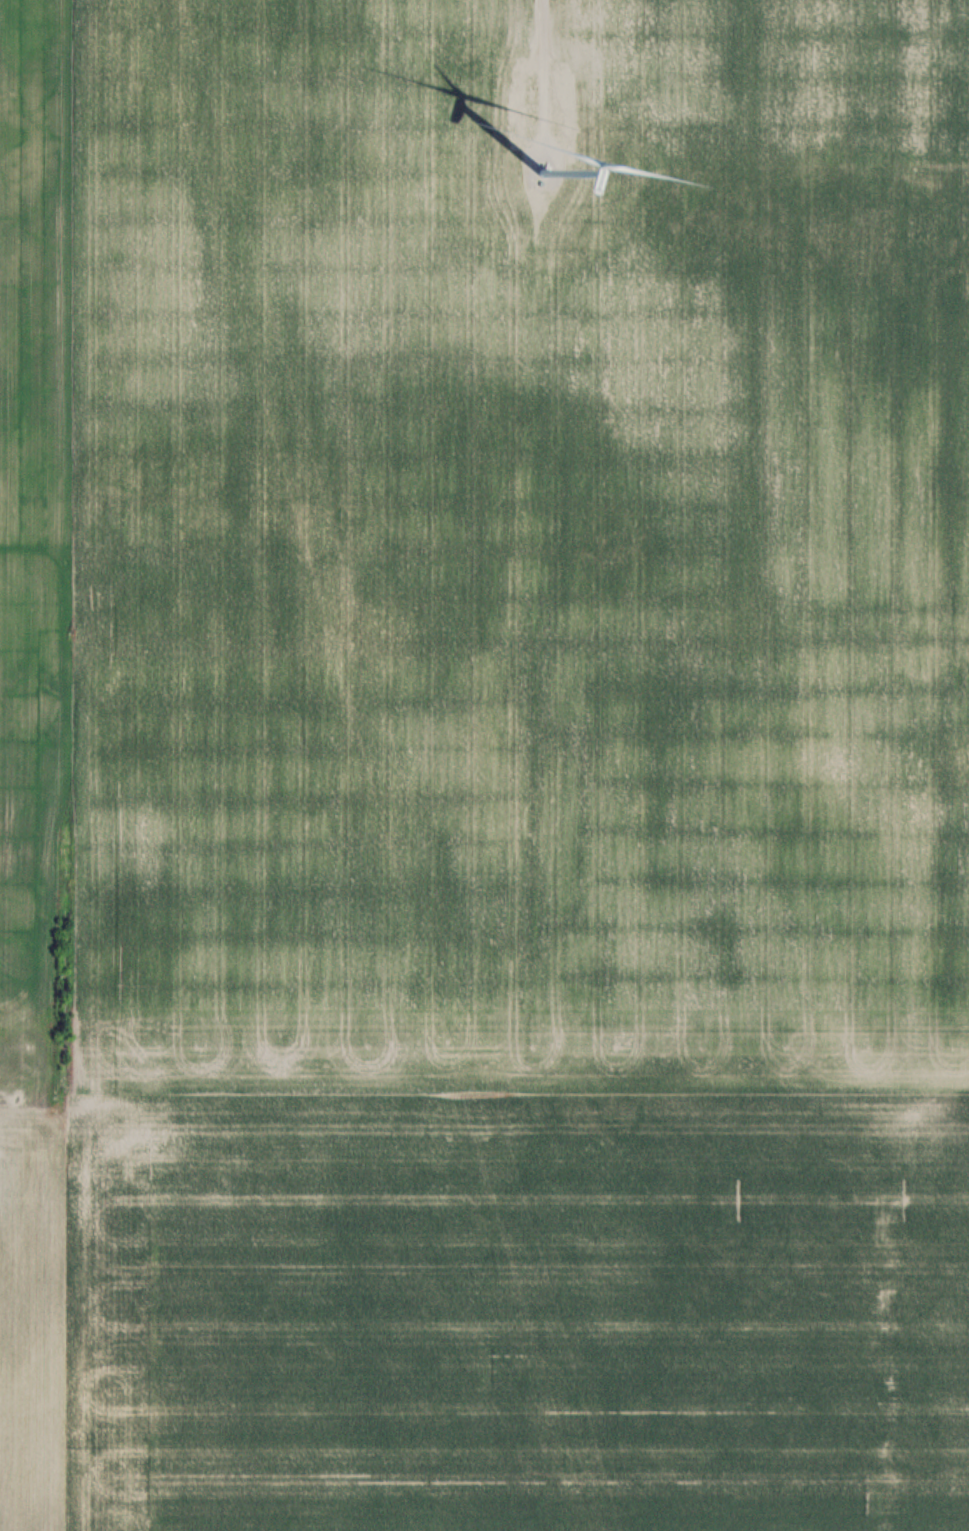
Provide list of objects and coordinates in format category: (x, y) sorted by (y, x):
road: (533, 56)
wind turbine: (530, 211)

